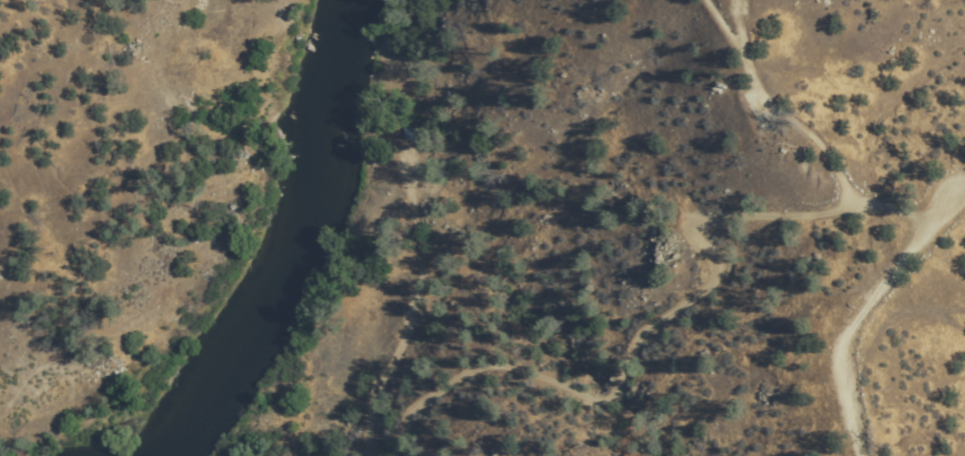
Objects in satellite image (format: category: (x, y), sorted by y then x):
road: (798, 97)
river: (287, 240)
road: (429, 242)
road: (729, 250)

